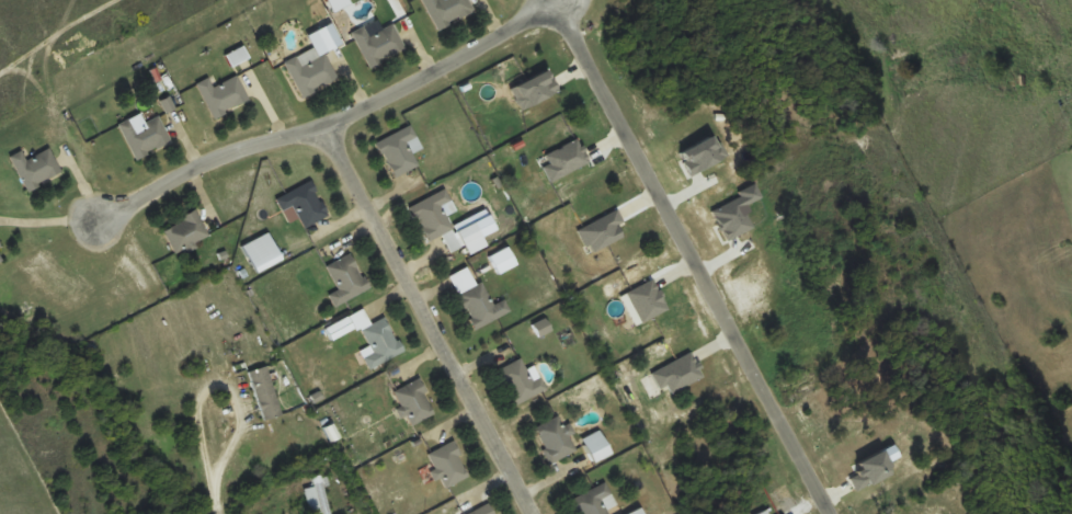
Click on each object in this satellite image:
road: (571, 3)
building: (448, 10)
building: (379, 43)
building: (311, 72)
building: (224, 94)
road: (345, 126)
building: (145, 135)
building: (399, 150)
building: (36, 167)
building: (305, 202)
building: (433, 214)
building: (186, 231)
building: (2, 256)
building: (502, 260)
road: (704, 261)
building: (346, 278)
building: (482, 305)
road: (434, 323)
building: (380, 342)
road: (226, 374)
building: (521, 380)
building: (265, 392)
building: (414, 400)
building: (556, 438)
building: (448, 462)
road: (215, 491)
building: (317, 496)
building: (594, 500)
building: (481, 510)
building: (638, 511)

